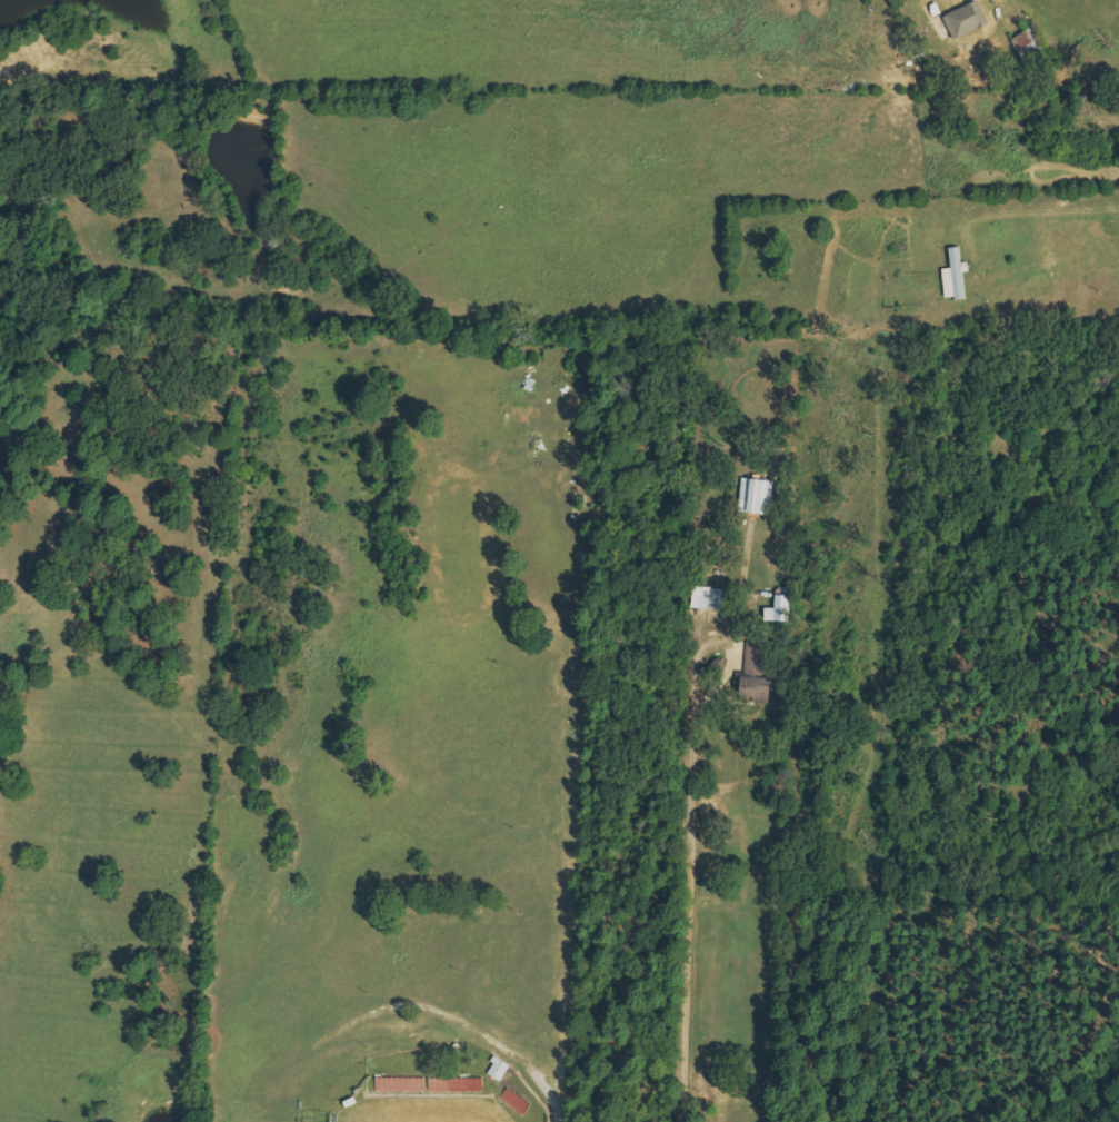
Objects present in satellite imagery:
building: (967, 19)
road: (1051, 110)
building: (955, 276)
building: (756, 496)
building: (712, 598)
building: (780, 609)
building: (753, 676)
building: (500, 1069)

